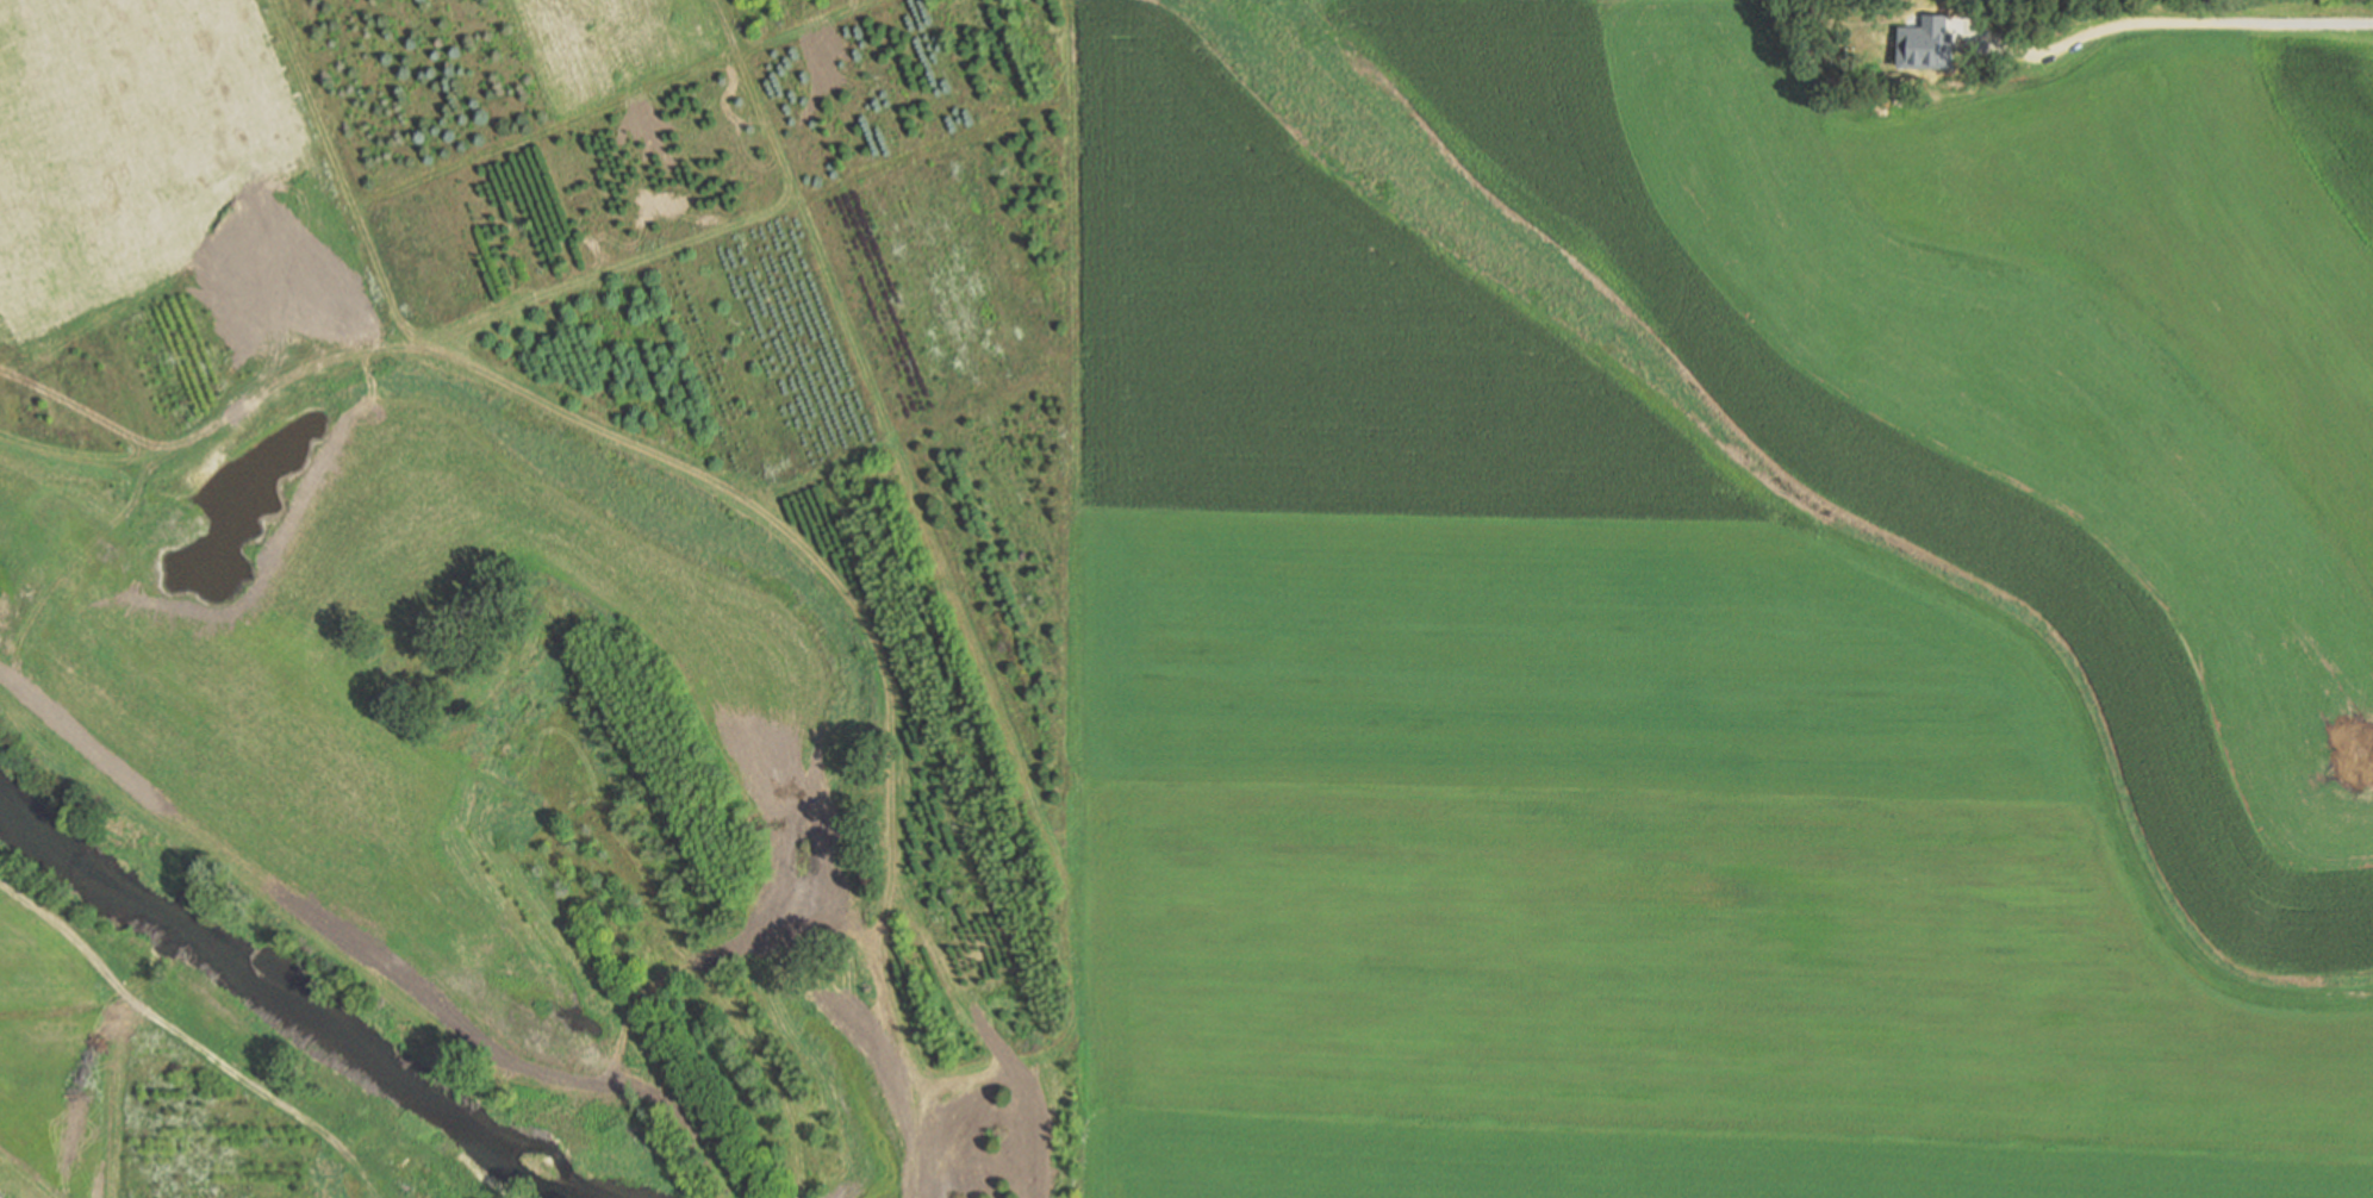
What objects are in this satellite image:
road: (723, 27)
road: (668, 81)
road: (306, 105)
road: (786, 206)
road: (232, 261)
road: (374, 289)
road: (843, 323)
road: (1072, 326)
road: (724, 486)
road: (768, 504)
road: (1071, 601)
crop: (1727, 610)
road: (1058, 846)
road: (2006, 918)
road: (2174, 960)
river: (293, 1005)
road: (172, 1029)
road: (108, 1093)
road: (361, 1180)
road: (372, 1181)
road: (12, 1186)
building: (1, 1194)

